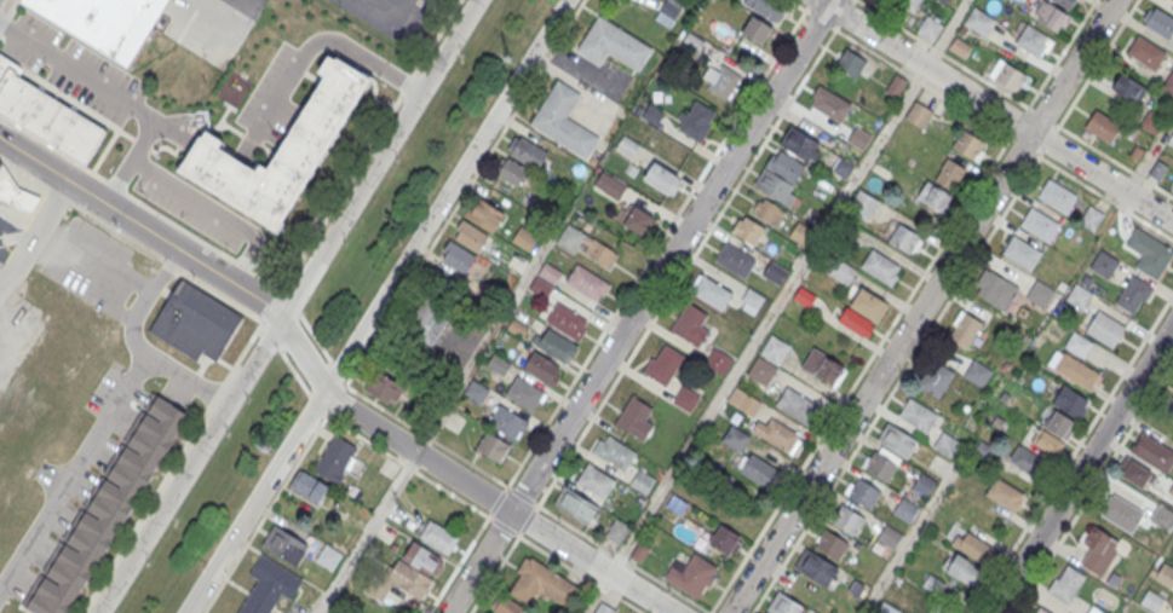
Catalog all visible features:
building: (943, 0)
building: (1172, 0)
building: (1065, 4)
building: (907, 5)
building: (765, 8)
building: (1050, 17)
building: (978, 19)
road: (380, 21)
building: (661, 21)
building: (1160, 21)
building: (104, 22)
parking lot: (209, 25)
building: (928, 25)
building: (755, 31)
road: (947, 31)
building: (1033, 37)
road: (318, 41)
building: (611, 41)
building: (959, 47)
building: (1145, 50)
road: (942, 52)
road: (1060, 53)
power tower: (505, 54)
building: (849, 64)
building: (1008, 77)
road: (1087, 77)
building: (720, 80)
building: (1167, 82)
building: (895, 86)
building: (1128, 88)
road: (936, 91)
road: (116, 98)
building: (829, 105)
road: (997, 109)
building: (46, 115)
building: (918, 115)
building: (563, 117)
building: (696, 118)
building: (1149, 121)
building: (1102, 126)
building: (1171, 138)
building: (800, 143)
building: (968, 145)
building: (528, 150)
building: (280, 151)
road: (1100, 151)
building: (511, 169)
building: (950, 174)
building: (780, 175)
building: (661, 178)
building: (610, 185)
building: (15, 192)
building: (1056, 193)
building: (933, 197)
road: (1105, 197)
building: (861, 202)
road: (214, 210)
building: (483, 210)
building: (767, 212)
building: (634, 218)
building: (1093, 220)
building: (1039, 221)
building: (747, 230)
building: (470, 236)
building: (904, 236)
road: (40, 238)
building: (524, 239)
road: (657, 242)
building: (597, 249)
road: (695, 250)
building: (1020, 250)
building: (1148, 250)
building: (456, 256)
building: (734, 258)
road: (99, 260)
building: (1103, 261)
building: (880, 264)
building: (775, 270)
building: (545, 279)
building: (587, 279)
road: (85, 283)
building: (995, 287)
building: (709, 289)
building: (1133, 290)
building: (1040, 291)
building: (1079, 294)
building: (751, 299)
building: (868, 302)
road: (288, 306)
road: (375, 306)
road: (639, 306)
road: (922, 306)
building: (567, 318)
building: (430, 319)
building: (195, 322)
building: (689, 323)
building: (1104, 326)
building: (965, 330)
road: (757, 339)
building: (554, 342)
building: (1077, 342)
road: (136, 345)
building: (774, 347)
building: (717, 358)
road: (868, 359)
building: (662, 363)
building: (822, 363)
building: (541, 366)
building: (1074, 366)
building: (760, 369)
building: (977, 370)
building: (935, 375)
building: (1172, 384)
building: (387, 389)
building: (523, 391)
road: (320, 392)
building: (685, 397)
building: (743, 399)
building: (1070, 400)
building: (795, 401)
building: (1167, 404)
building: (918, 412)
building: (634, 416)
building: (507, 423)
road: (433, 426)
building: (775, 432)
building: (1054, 433)
building: (897, 438)
building: (735, 439)
building: (491, 444)
building: (947, 445)
power tower: (263, 446)
building: (613, 450)
building: (1152, 450)
building: (983, 452)
road: (1073, 452)
building: (334, 461)
building: (881, 461)
building: (1027, 461)
road: (1082, 469)
building: (761, 473)
building: (1134, 473)
road: (74, 474)
building: (596, 478)
building: (642, 481)
building: (924, 481)
road: (1093, 487)
building: (309, 488)
building: (863, 491)
building: (1005, 495)
building: (576, 502)
building: (105, 507)
building: (905, 508)
building: (1121, 514)
building: (847, 517)
building: (616, 532)
building: (437, 534)
building: (889, 537)
road: (593, 538)
road: (910, 538)
building: (724, 542)
building: (284, 543)
building: (832, 543)
building: (971, 544)
building: (1098, 550)
building: (328, 559)
building: (816, 567)
building: (961, 568)
building: (1165, 572)
building: (691, 573)
building: (406, 574)
building: (541, 582)
building: (1065, 583)
building: (268, 585)
building: (1151, 598)
building: (782, 603)
building: (505, 605)
building: (373, 609)
building: (605, 609)
building: (933, 609)
building: (1094, 609)
building: (1040, 611)
building: (484, 612)

